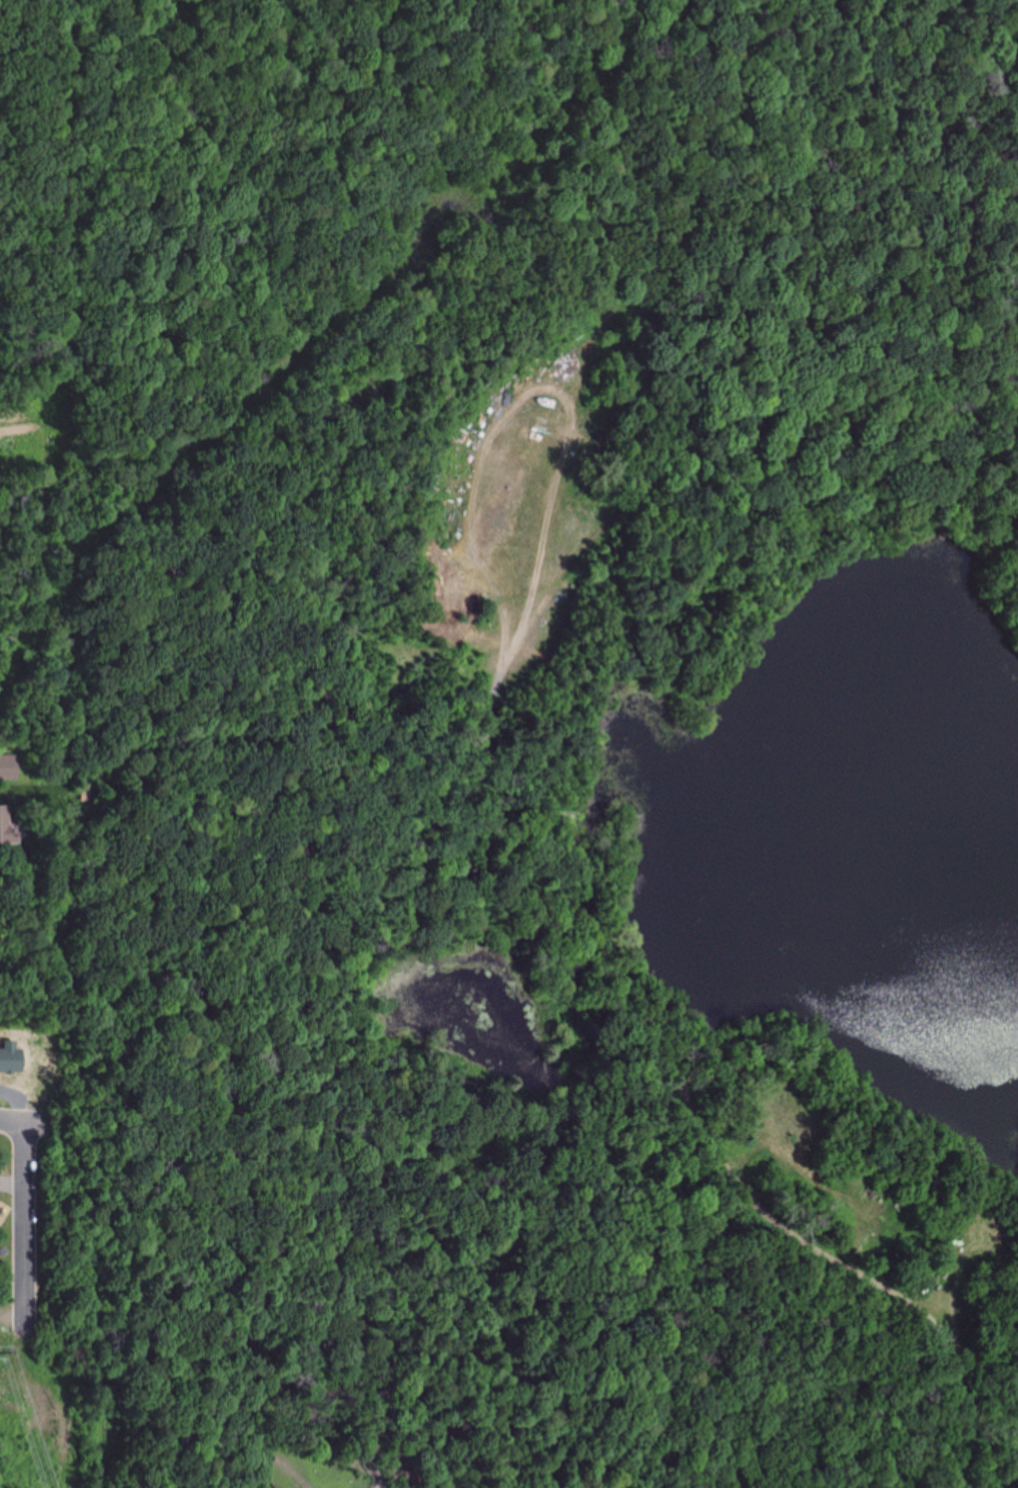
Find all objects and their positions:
building: (435, 483)
building: (5, 830)
road: (31, 1126)
road: (28, 1230)

